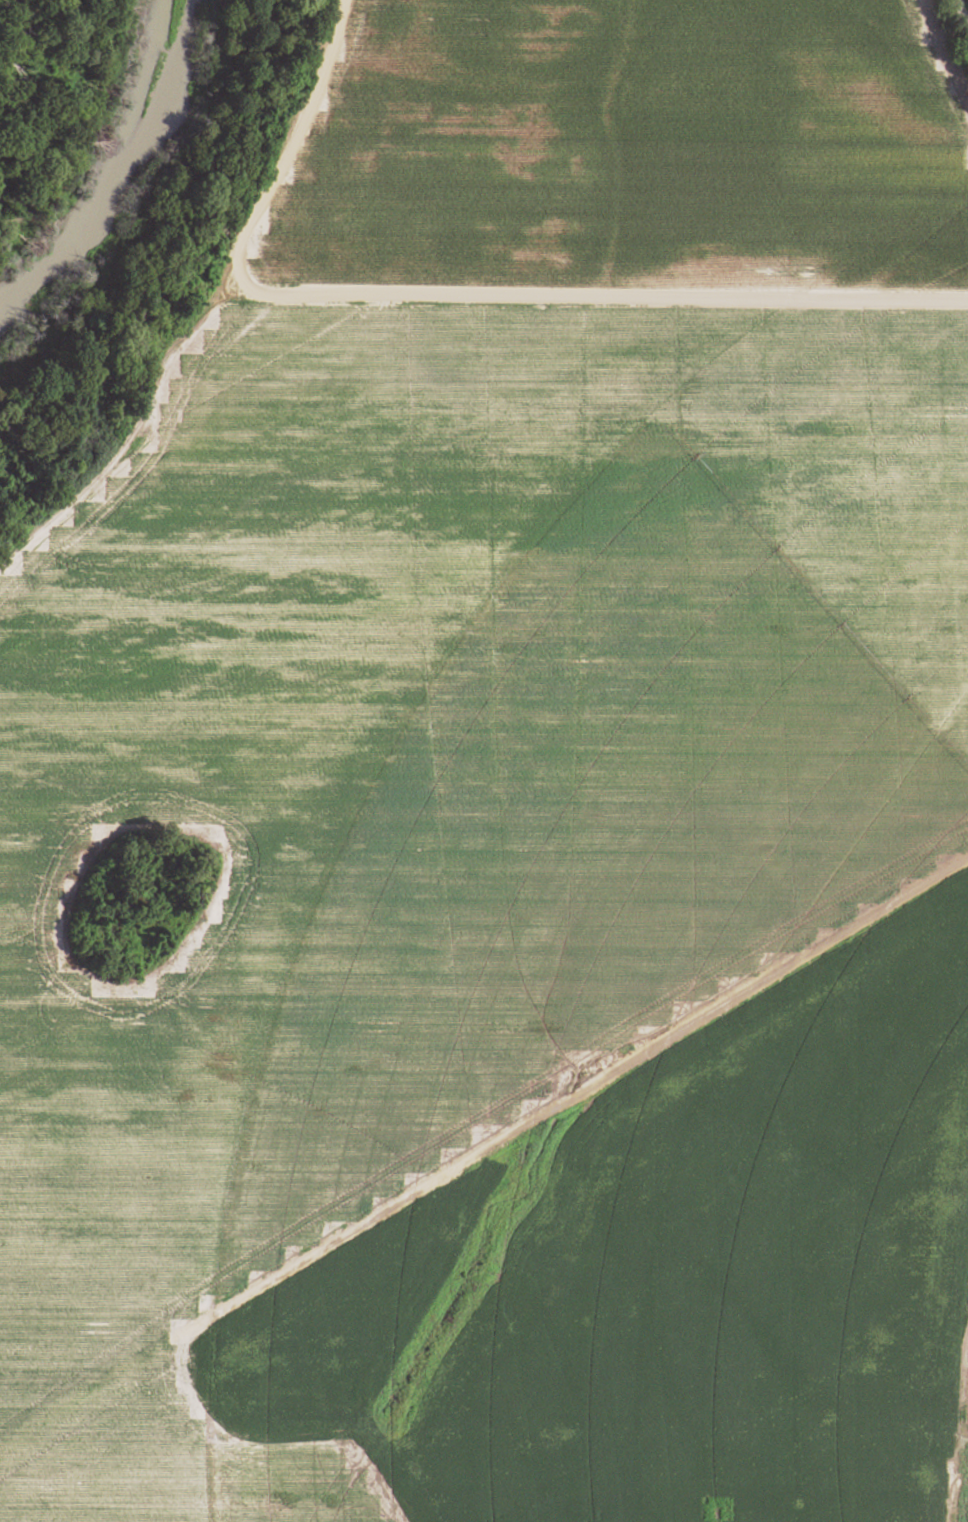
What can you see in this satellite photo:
railway: (961, 13)
river: (122, 169)
road: (448, 297)
road: (482, 1153)
road: (909, 1334)
road: (328, 1390)

